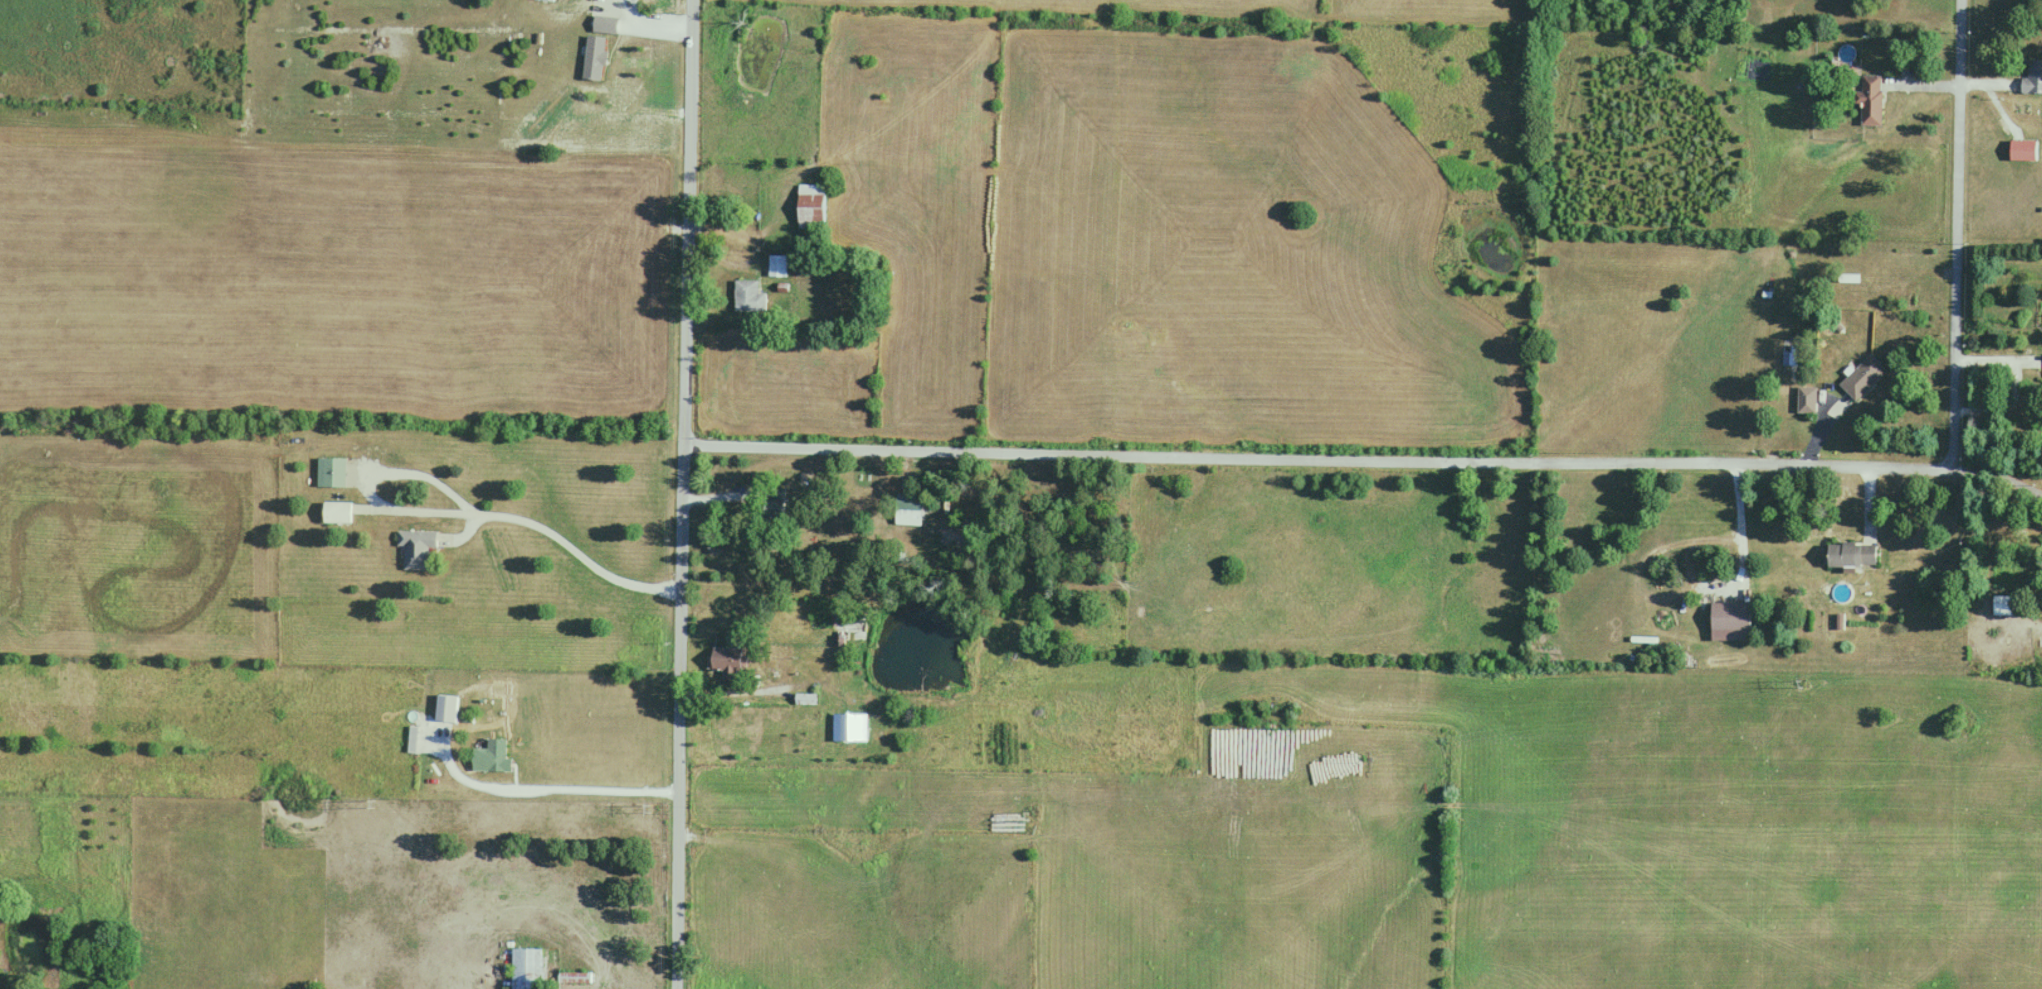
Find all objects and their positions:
building: (594, 59)
building: (2032, 79)
building: (1870, 101)
building: (2022, 152)
building: (811, 207)
road: (1954, 233)
building: (776, 266)
building: (748, 297)
building: (1862, 378)
building: (1806, 401)
road: (1317, 458)
building: (331, 473)
road: (1996, 477)
road: (684, 494)
building: (338, 513)
building: (416, 550)
road: (578, 553)
building: (1851, 555)
building: (2006, 607)
building: (1730, 617)
building: (727, 668)
power tower: (1789, 686)
road: (748, 692)
building: (447, 708)
building: (850, 728)
building: (412, 739)
building: (497, 749)
power tower: (1356, 758)
road: (543, 786)
power tower: (364, 809)
power tower: (645, 810)
power tower: (1032, 819)
building: (528, 968)
building: (582, 978)

